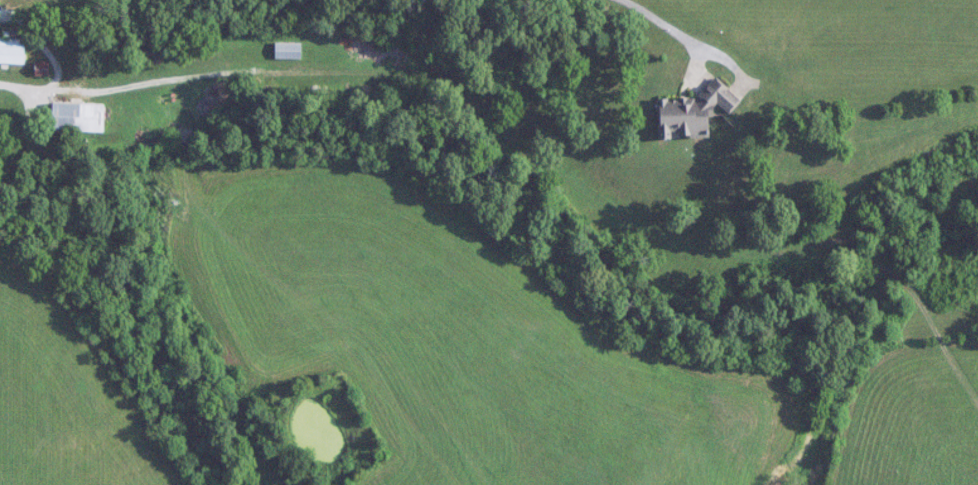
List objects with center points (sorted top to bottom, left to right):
road: (659, 20)
building: (12, 50)
building: (288, 50)
road: (112, 89)
building: (694, 112)
building: (78, 117)

